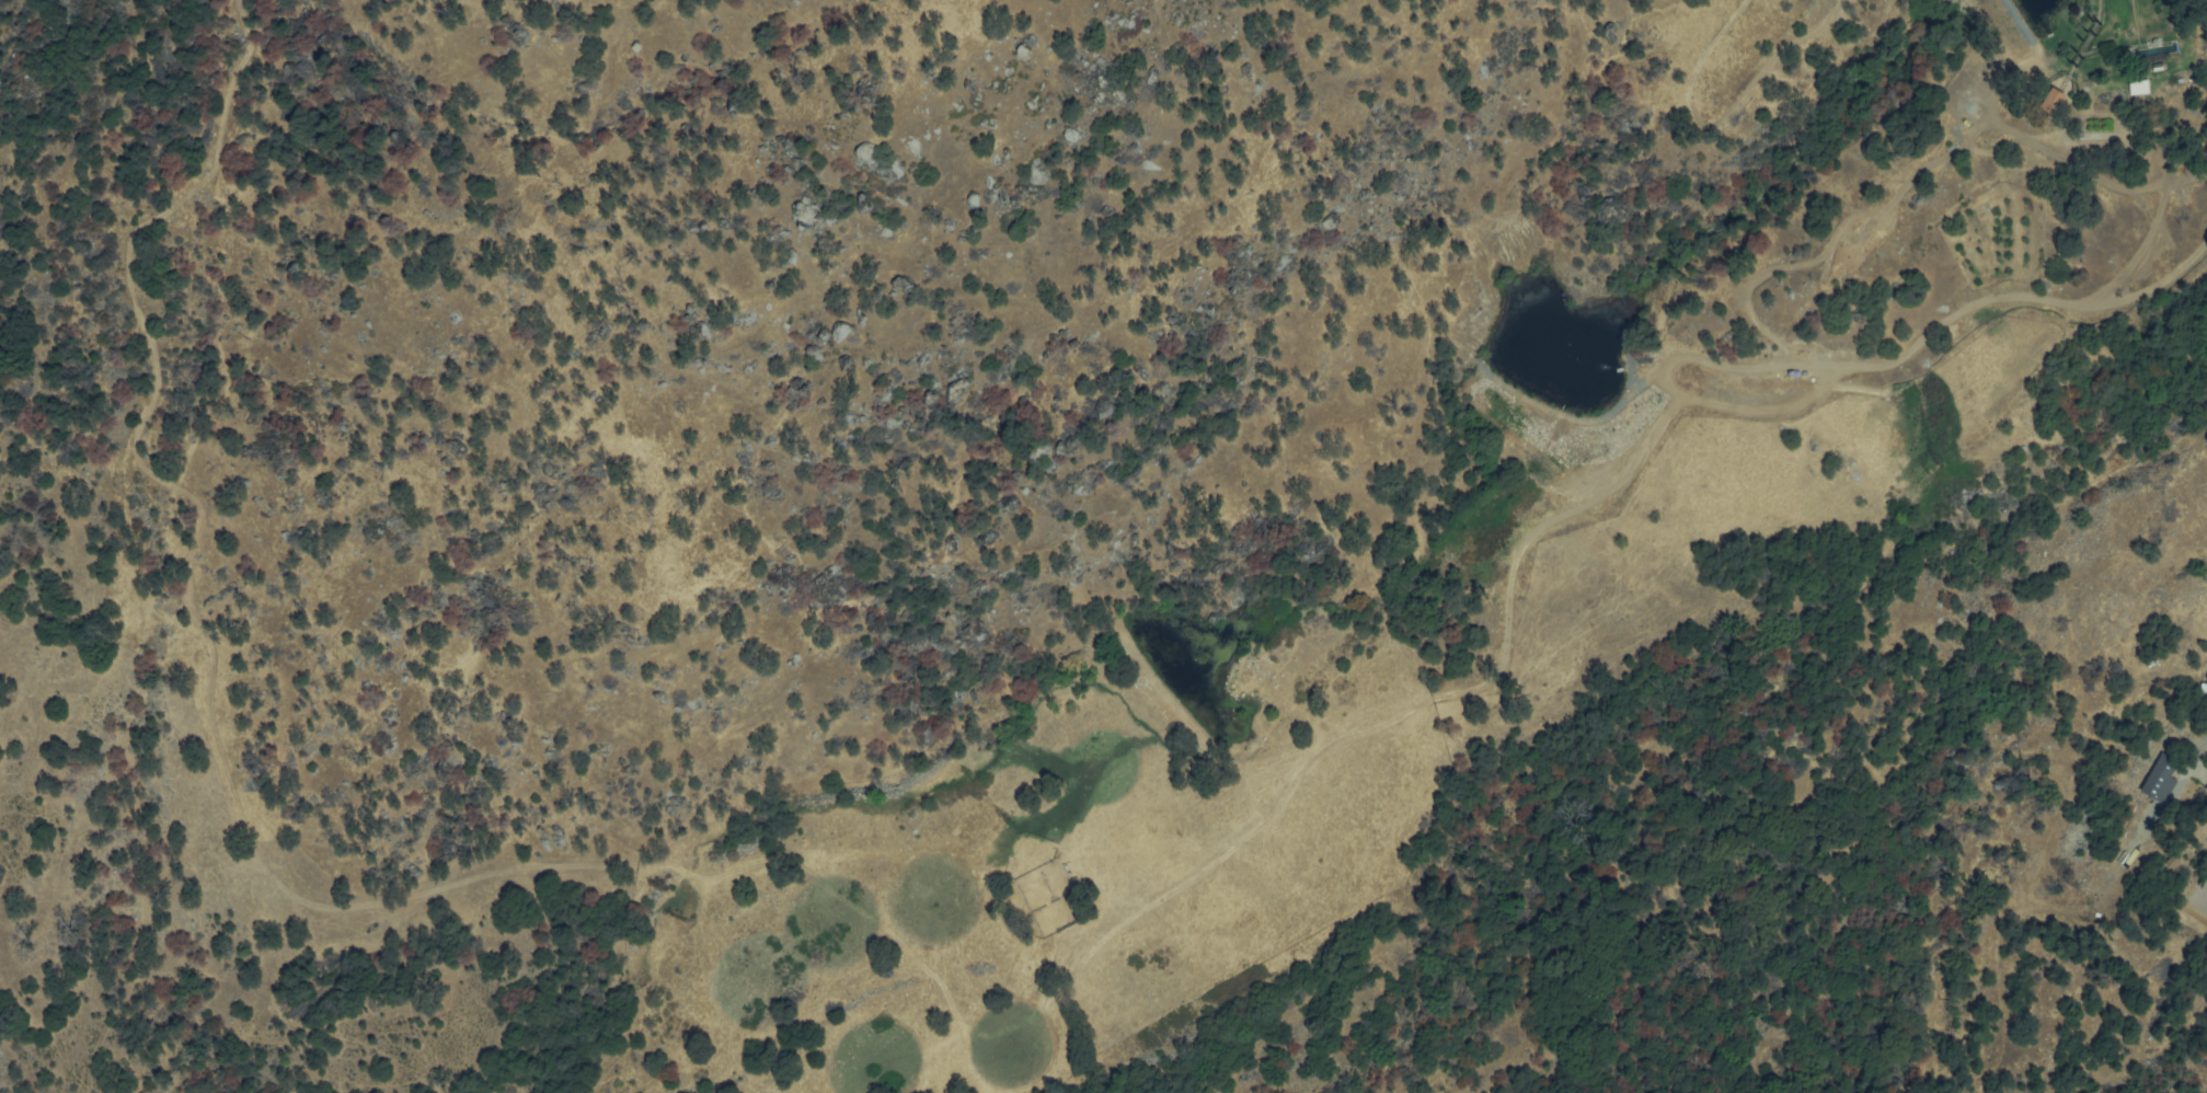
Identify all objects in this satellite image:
building: (2160, 781)
building: (2204, 787)

